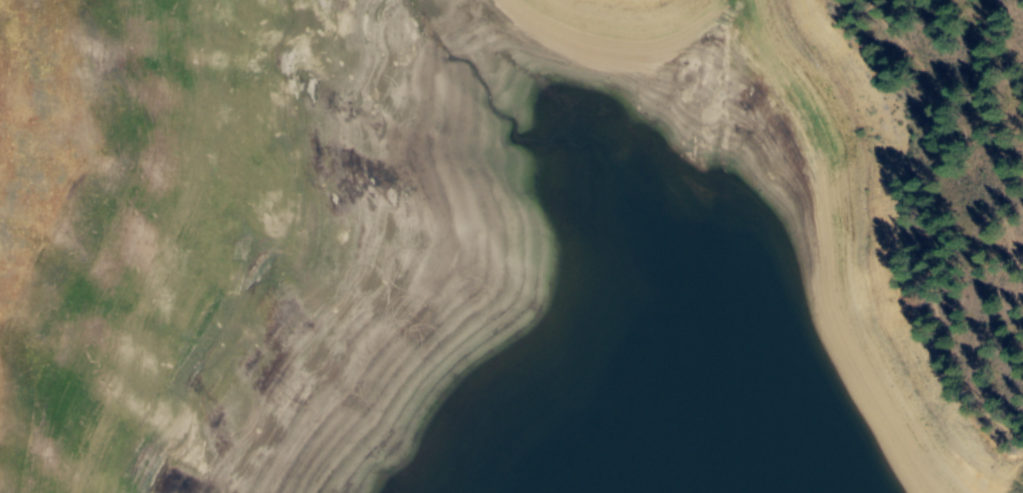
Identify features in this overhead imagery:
road: (934, 218)

